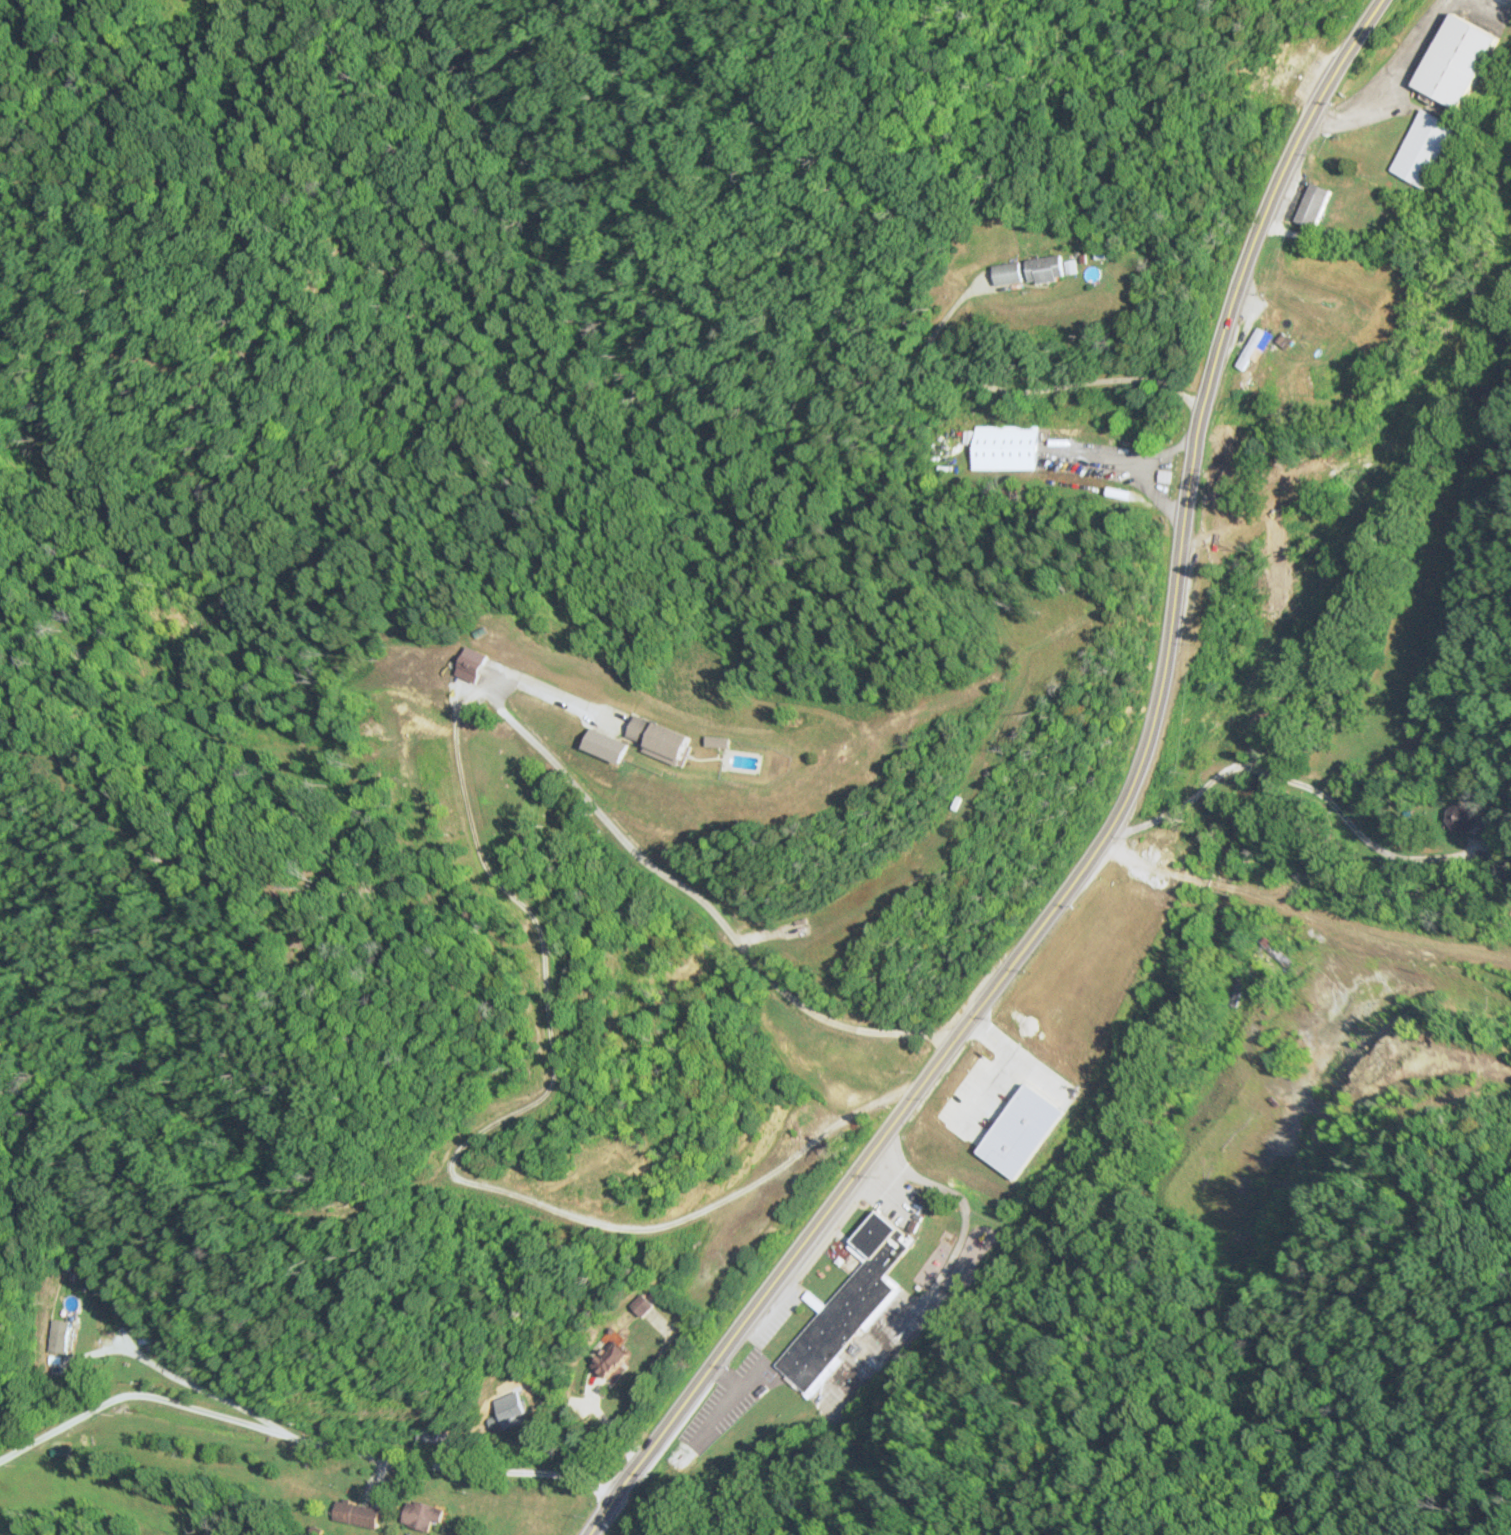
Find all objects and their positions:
building: (1455, 61)
building: (1283, 69)
building: (1424, 148)
building: (1313, 205)
road: (998, 209)
building: (1044, 268)
building: (1007, 273)
building: (1285, 341)
building: (1252, 349)
building: (1065, 433)
building: (1002, 447)
building: (656, 739)
building: (603, 746)
road: (1262, 770)
road: (1180, 803)
building: (1459, 817)
road: (1105, 826)
road: (1361, 837)
building: (1275, 956)
river: (1207, 959)
road: (1021, 1057)
road: (986, 1092)
parking lot: (983, 1100)
building: (1023, 1130)
building: (643, 1303)
building: (845, 1305)
building: (61, 1332)
building: (609, 1360)
building: (509, 1409)
building: (357, 1515)
building: (422, 1516)

